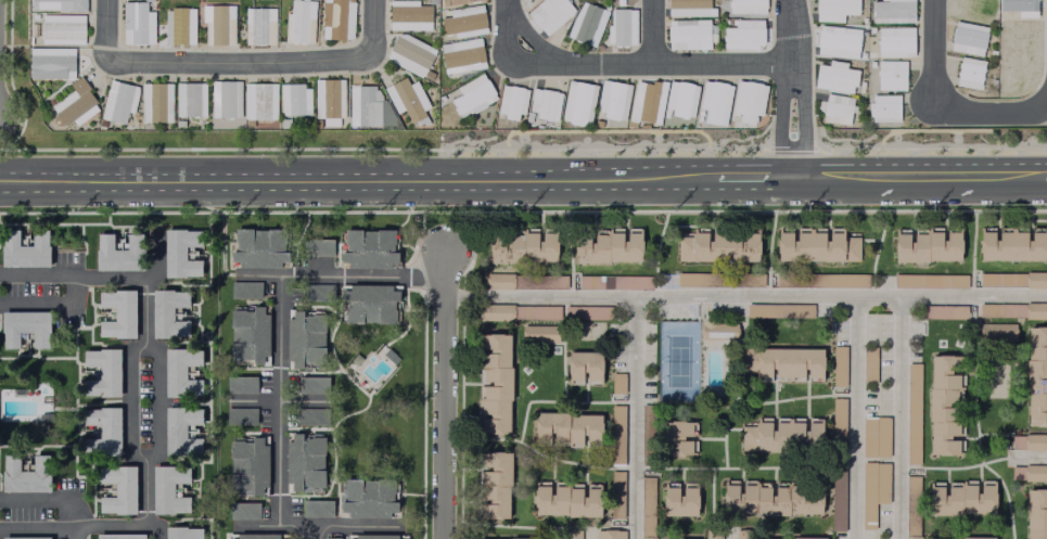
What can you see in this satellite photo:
building: (463, 2)
building: (743, 5)
building: (77, 7)
building: (689, 9)
building: (831, 9)
building: (969, 9)
building: (890, 10)
building: (549, 15)
building: (408, 17)
building: (336, 21)
building: (299, 24)
building: (463, 24)
building: (136, 26)
building: (586, 26)
building: (217, 27)
building: (178, 28)
building: (257, 28)
building: (61, 30)
building: (621, 30)
road: (373, 31)
building: (739, 31)
road: (103, 33)
road: (653, 33)
building: (965, 35)
building: (687, 37)
building: (834, 39)
building: (892, 40)
road: (933, 53)
building: (409, 55)
building: (461, 59)
road: (239, 64)
building: (51, 65)
road: (615, 65)
building: (967, 70)
building: (889, 73)
building: (831, 74)
road: (791, 88)
building: (472, 99)
building: (746, 99)
building: (712, 100)
building: (191, 101)
building: (225, 101)
building: (329, 101)
building: (407, 101)
building: (293, 102)
building: (613, 102)
building: (679, 102)
building: (259, 103)
building: (155, 104)
building: (578, 104)
building: (646, 104)
building: (118, 105)
building: (511, 105)
building: (881, 105)
building: (74, 106)
building: (545, 106)
building: (833, 107)
road: (989, 107)
building: (365, 108)
building: (284, 125)
road: (924, 176)
road: (1007, 176)
road: (1045, 176)
road: (754, 177)
road: (834, 177)
road: (359, 178)
building: (715, 243)
building: (927, 243)
building: (23, 245)
building: (257, 245)
building: (316, 245)
building: (365, 245)
building: (815, 245)
building: (1012, 245)
building: (117, 248)
building: (178, 248)
building: (522, 252)
building: (607, 253)
road: (361, 273)
building: (1012, 278)
building: (719, 279)
building: (818, 279)
building: (929, 279)
building: (523, 283)
building: (615, 283)
building: (244, 287)
building: (317, 291)
road: (744, 297)
building: (370, 304)
building: (778, 308)
building: (1013, 309)
building: (114, 310)
building: (165, 310)
building: (942, 310)
building: (518, 313)
building: (587, 315)
building: (24, 323)
building: (715, 329)
building: (994, 330)
building: (247, 331)
building: (305, 335)
building: (539, 335)
building: (779, 360)
building: (867, 362)
building: (837, 364)
building: (100, 369)
building: (179, 369)
road: (280, 369)
building: (585, 369)
building: (1035, 373)
building: (241, 383)
building: (314, 384)
building: (618, 385)
building: (496, 387)
road: (440, 396)
building: (942, 401)
road: (143, 402)
building: (910, 412)
building: (312, 414)
building: (241, 415)
road: (856, 418)
road: (898, 418)
road: (638, 419)
building: (837, 423)
building: (99, 428)
building: (179, 428)
building: (570, 431)
building: (778, 434)
building: (872, 435)
building: (648, 436)
building: (616, 437)
building: (1027, 440)
building: (678, 442)
building: (304, 461)
building: (245, 462)
building: (1027, 471)
building: (24, 472)
building: (647, 483)
building: (115, 487)
building: (166, 487)
building: (495, 487)
building: (870, 488)
building: (834, 495)
building: (766, 496)
building: (957, 497)
building: (368, 498)
building: (616, 498)
building: (565, 506)
building: (678, 506)
building: (909, 506)
building: (318, 509)
building: (243, 510)
building: (1033, 512)
road: (354, 522)
road: (277, 524)
building: (180, 531)
building: (710, 532)
road: (75, 534)
building: (118, 535)
building: (253, 535)
building: (572, 535)
building: (610, 535)
building: (743, 535)
building: (23, 537)
building: (374, 537)
building: (788, 537)
building: (331, 538)
building: (952, 538)

